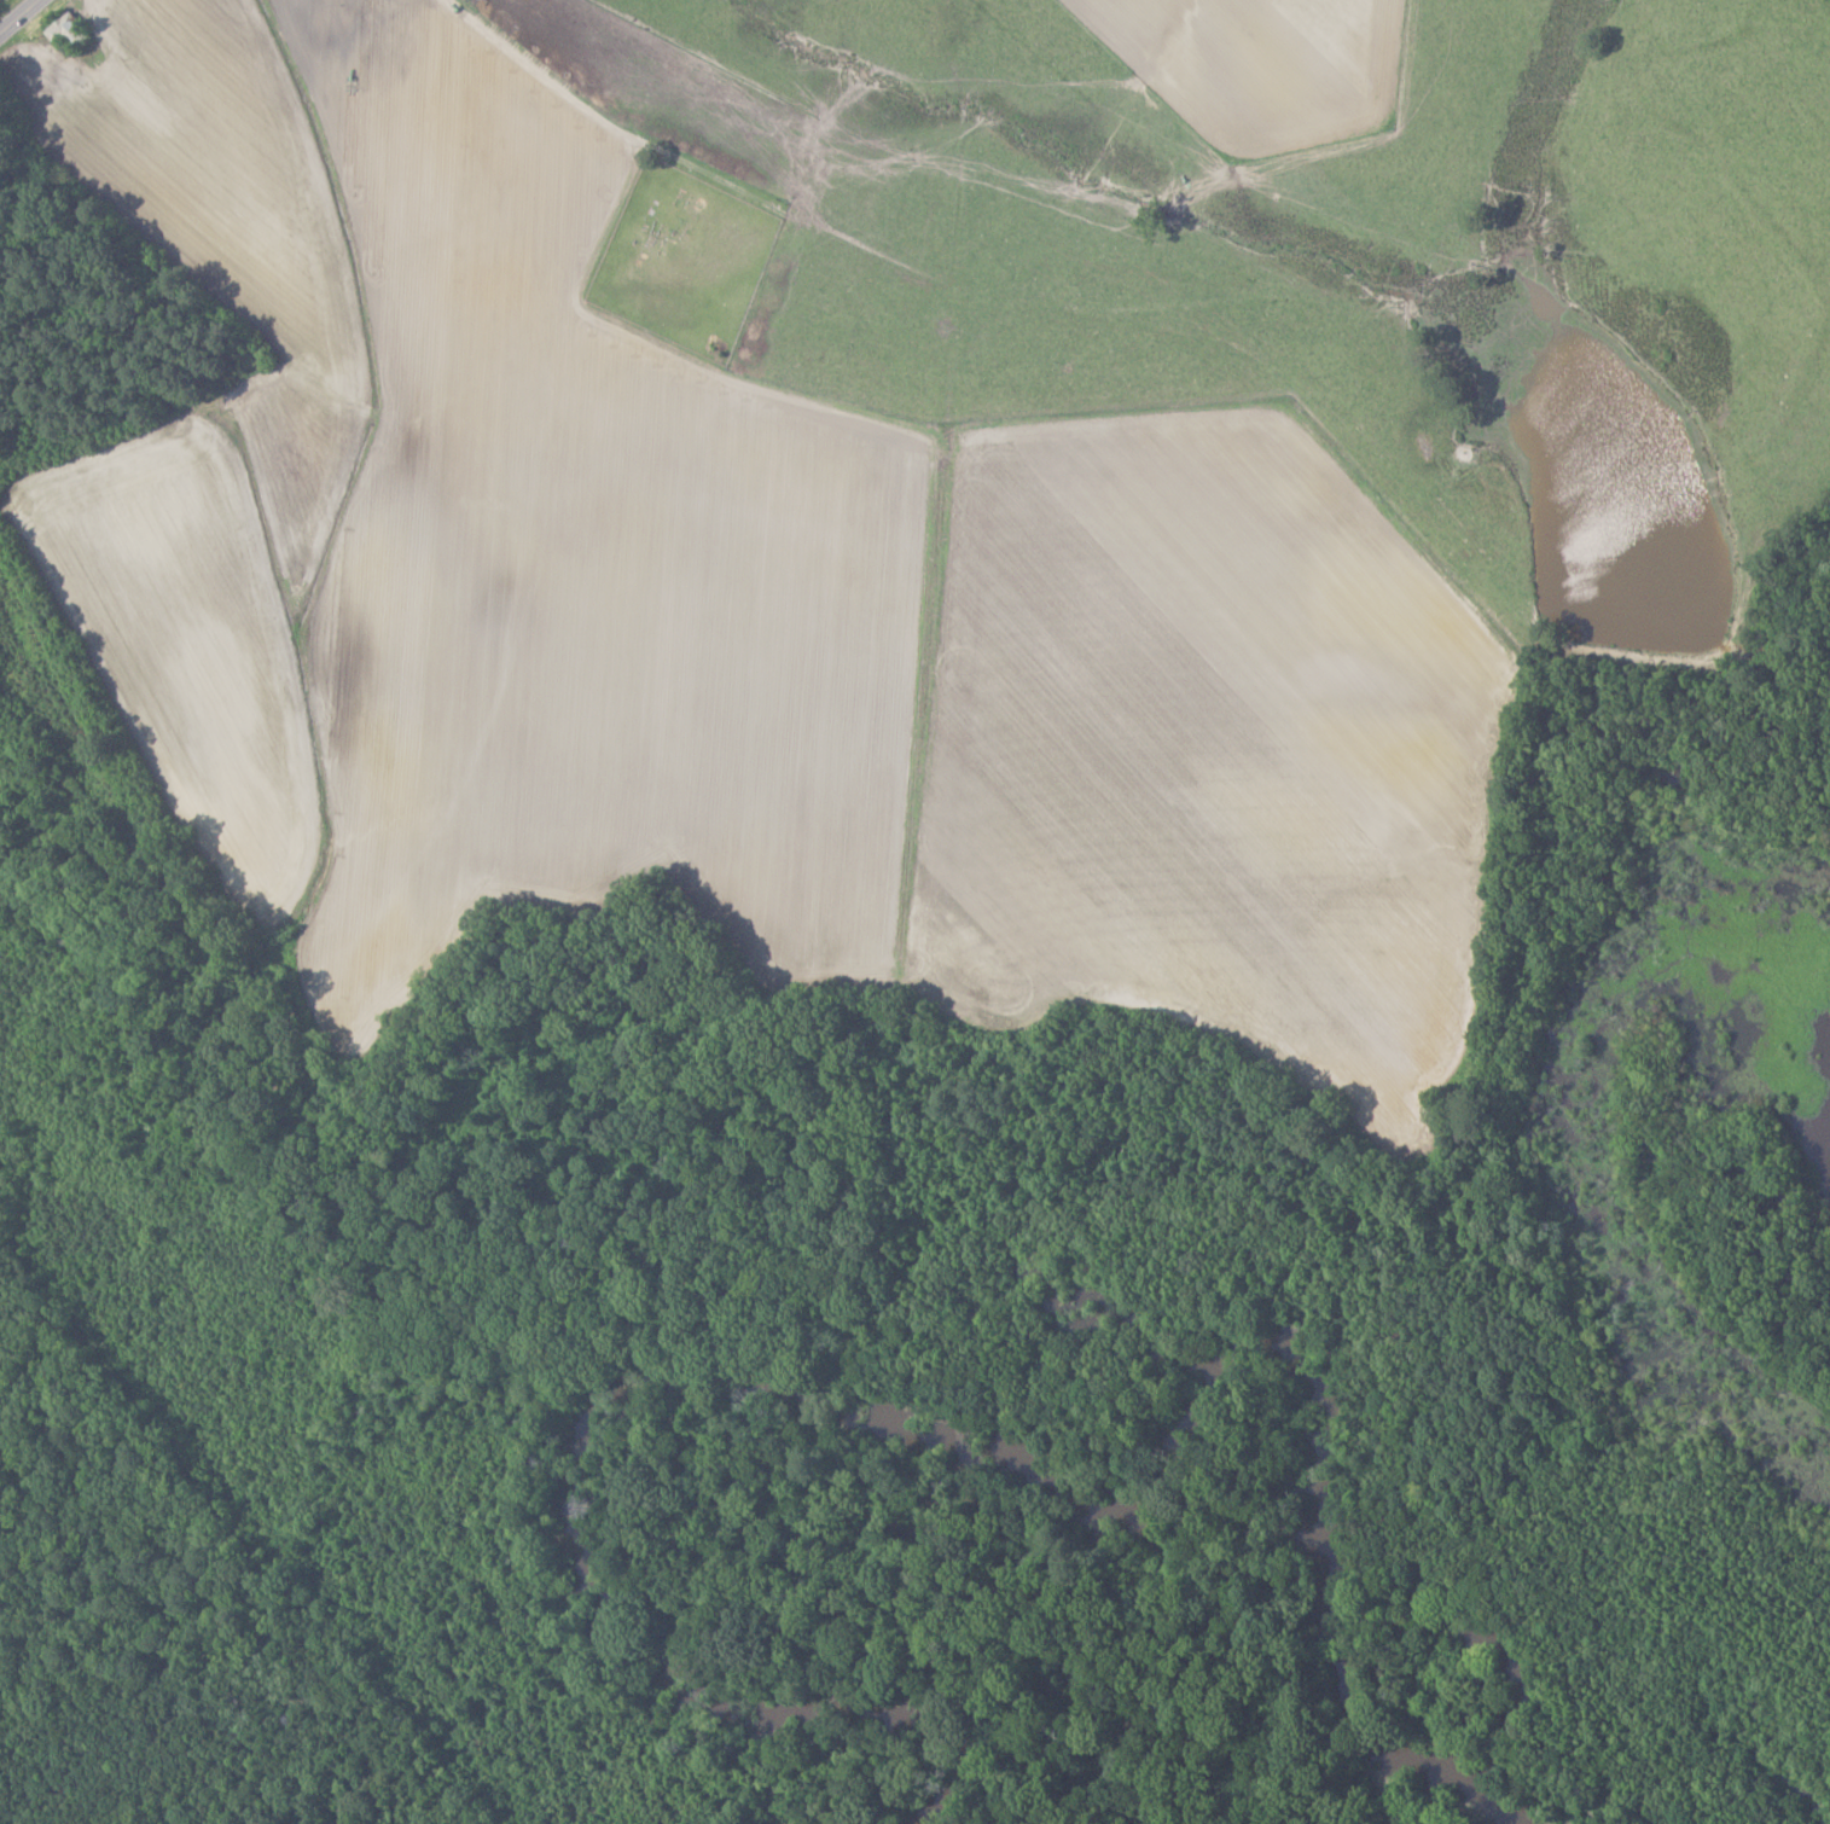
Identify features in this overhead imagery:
road: (21, 18)

